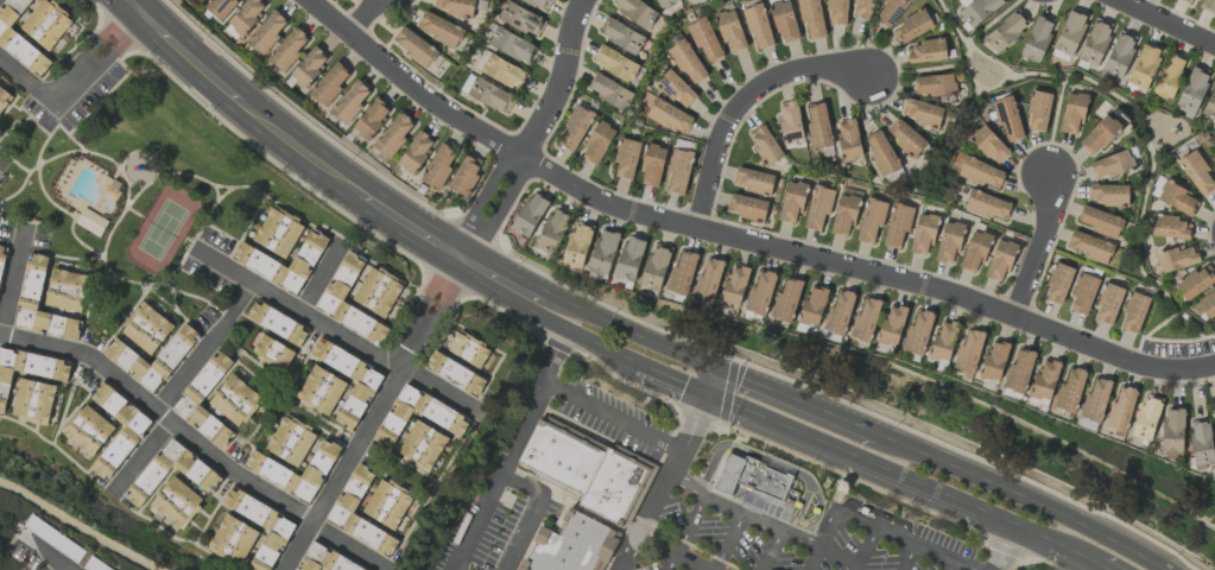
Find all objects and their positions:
building: (1191, 1)
building: (666, 2)
building: (539, 4)
road: (132, 6)
building: (1208, 6)
building: (220, 7)
building: (455, 7)
building: (862, 8)
rooftop solar panel: (970, 8)
building: (635, 11)
building: (891, 11)
building: (977, 11)
building: (836, 12)
building: (246, 14)
road: (363, 17)
rooftop solar panel: (539, 17)
building: (811, 18)
building: (520, 19)
building: (784, 21)
rooftop solar panel: (521, 23)
building: (46, 24)
road: (1164, 24)
building: (757, 25)
rooftop solar panel: (536, 26)
building: (911, 26)
building: (439, 28)
building: (730, 30)
building: (1005, 31)
building: (1070, 32)
building: (266, 33)
building: (621, 36)
building: (19, 39)
building: (1037, 39)
building: (704, 40)
building: (1094, 43)
building: (511, 45)
building: (415, 46)
building: (287, 49)
building: (926, 51)
building: (1119, 55)
road: (96, 56)
road: (189, 57)
building: (686, 62)
building: (618, 65)
building: (309, 66)
building: (1143, 66)
building: (502, 71)
building: (1169, 77)
road: (26, 80)
building: (330, 83)
building: (934, 84)
building: (675, 88)
building: (1192, 90)
building: (609, 91)
building: (489, 95)
building: (4, 96)
building: (350, 101)
road: (742, 104)
building: (1210, 104)
building: (1038, 109)
building: (922, 113)
building: (1072, 113)
building: (669, 115)
rooftop solar panel: (1004, 115)
building: (371, 118)
building: (1007, 118)
building: (790, 121)
building: (817, 125)
building: (574, 127)
building: (393, 134)
road: (537, 134)
building: (1099, 134)
building: (905, 138)
building: (848, 139)
building: (596, 142)
building: (988, 144)
building: (765, 145)
road: (299, 150)
building: (416, 152)
building: (881, 153)
building: (1214, 154)
building: (626, 158)
building: (1110, 164)
building: (438, 165)
building: (652, 165)
building: (678, 171)
building: (981, 172)
building: (1197, 172)
building: (466, 175)
building: (754, 180)
building: (1108, 194)
building: (1177, 198)
building: (791, 202)
building: (987, 205)
building: (747, 207)
building: (817, 208)
building: (530, 214)
building: (844, 215)
building: (871, 221)
building: (1099, 221)
building: (90, 222)
building: (897, 226)
road: (412, 227)
building: (1169, 227)
building: (278, 232)
building: (552, 232)
building: (923, 234)
building: (949, 242)
road: (735, 243)
building: (577, 245)
building: (1089, 246)
building: (974, 251)
road: (1040, 251)
building: (603, 252)
building: (1, 253)
building: (629, 259)
building: (1176, 259)
building: (1000, 260)
building: (259, 264)
building: (654, 268)
building: (682, 273)
road: (322, 278)
building: (708, 279)
building: (341, 281)
road: (502, 281)
building: (1195, 281)
building: (1058, 283)
building: (31, 285)
building: (735, 285)
road: (12, 286)
building: (67, 290)
building: (376, 291)
building: (760, 293)
building: (1083, 293)
building: (786, 300)
building: (1108, 304)
building: (1208, 304)
building: (812, 306)
building: (1133, 312)
road: (434, 313)
building: (839, 313)
building: (866, 318)
building: (277, 323)
building: (892, 325)
building: (146, 328)
road: (335, 330)
road: (629, 330)
building: (918, 332)
road: (584, 338)
building: (944, 341)
road: (207, 349)
building: (968, 350)
building: (472, 351)
building: (271, 353)
building: (126, 360)
building: (994, 361)
building: (31, 366)
traffic signals: (717, 368)
building: (1019, 370)
building: (455, 374)
building: (1045, 379)
road: (673, 380)
road: (713, 381)
building: (202, 384)
building: (319, 391)
building: (1070, 391)
traffic signals: (709, 395)
building: (1095, 399)
building: (235, 400)
road: (720, 400)
building: (32, 401)
building: (356, 401)
road: (796, 401)
building: (2, 405)
building: (1121, 410)
road: (162, 414)
building: (418, 416)
road: (616, 418)
building: (1146, 418)
building: (1214, 418)
building: (87, 430)
building: (1172, 430)
building: (290, 441)
building: (1201, 444)
building: (422, 445)
building: (120, 448)
road: (143, 457)
building: (564, 458)
road: (874, 464)
road: (343, 468)
building: (196, 470)
building: (272, 471)
building: (732, 475)
road: (499, 476)
building: (766, 480)
road: (664, 482)
building: (615, 488)
building: (352, 494)
road: (1021, 498)
building: (176, 502)
building: (387, 503)
road: (537, 512)
road: (742, 512)
building: (278, 526)
road: (888, 528)
road: (686, 531)
road: (1033, 534)
building: (232, 540)
road: (729, 541)
road: (348, 546)
building: (575, 546)
road: (867, 547)
road: (1006, 547)
road: (676, 550)
road: (773, 550)
road: (1074, 553)
road: (909, 556)
road: (814, 558)
building: (323, 559)
road: (949, 564)
road: (53, 565)
road: (1101, 568)
building: (1025, 569)

